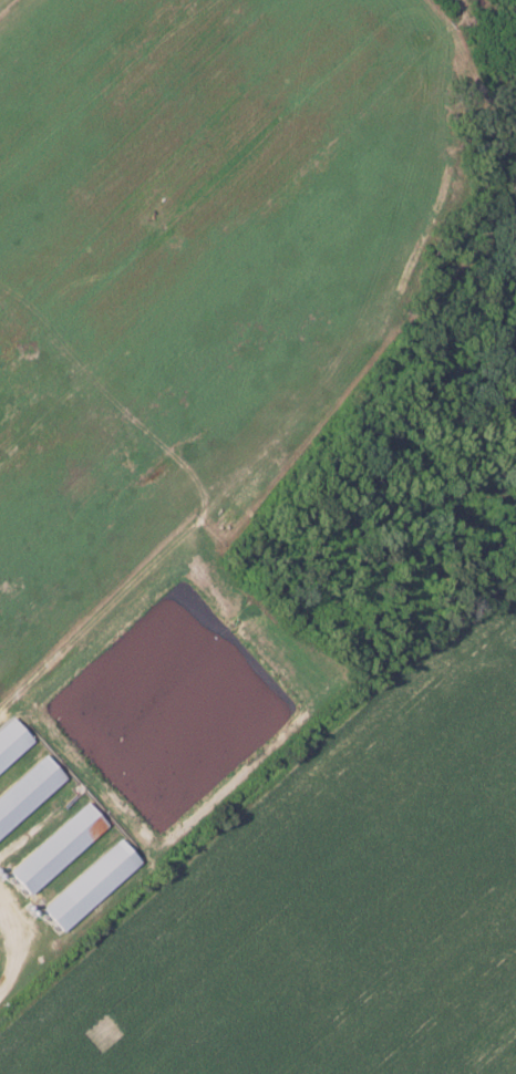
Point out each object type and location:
building: (11, 742)
building: (28, 792)
building: (58, 848)
building: (91, 885)

